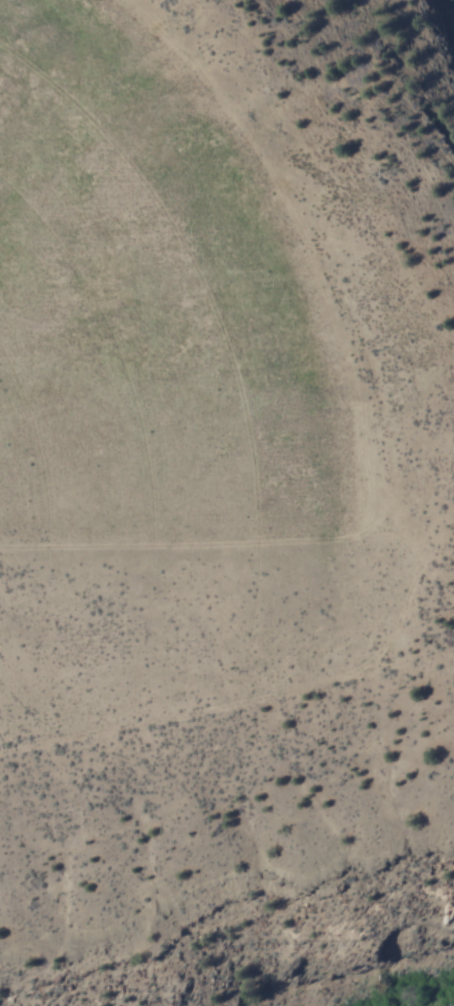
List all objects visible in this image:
crop: (199, 410)

